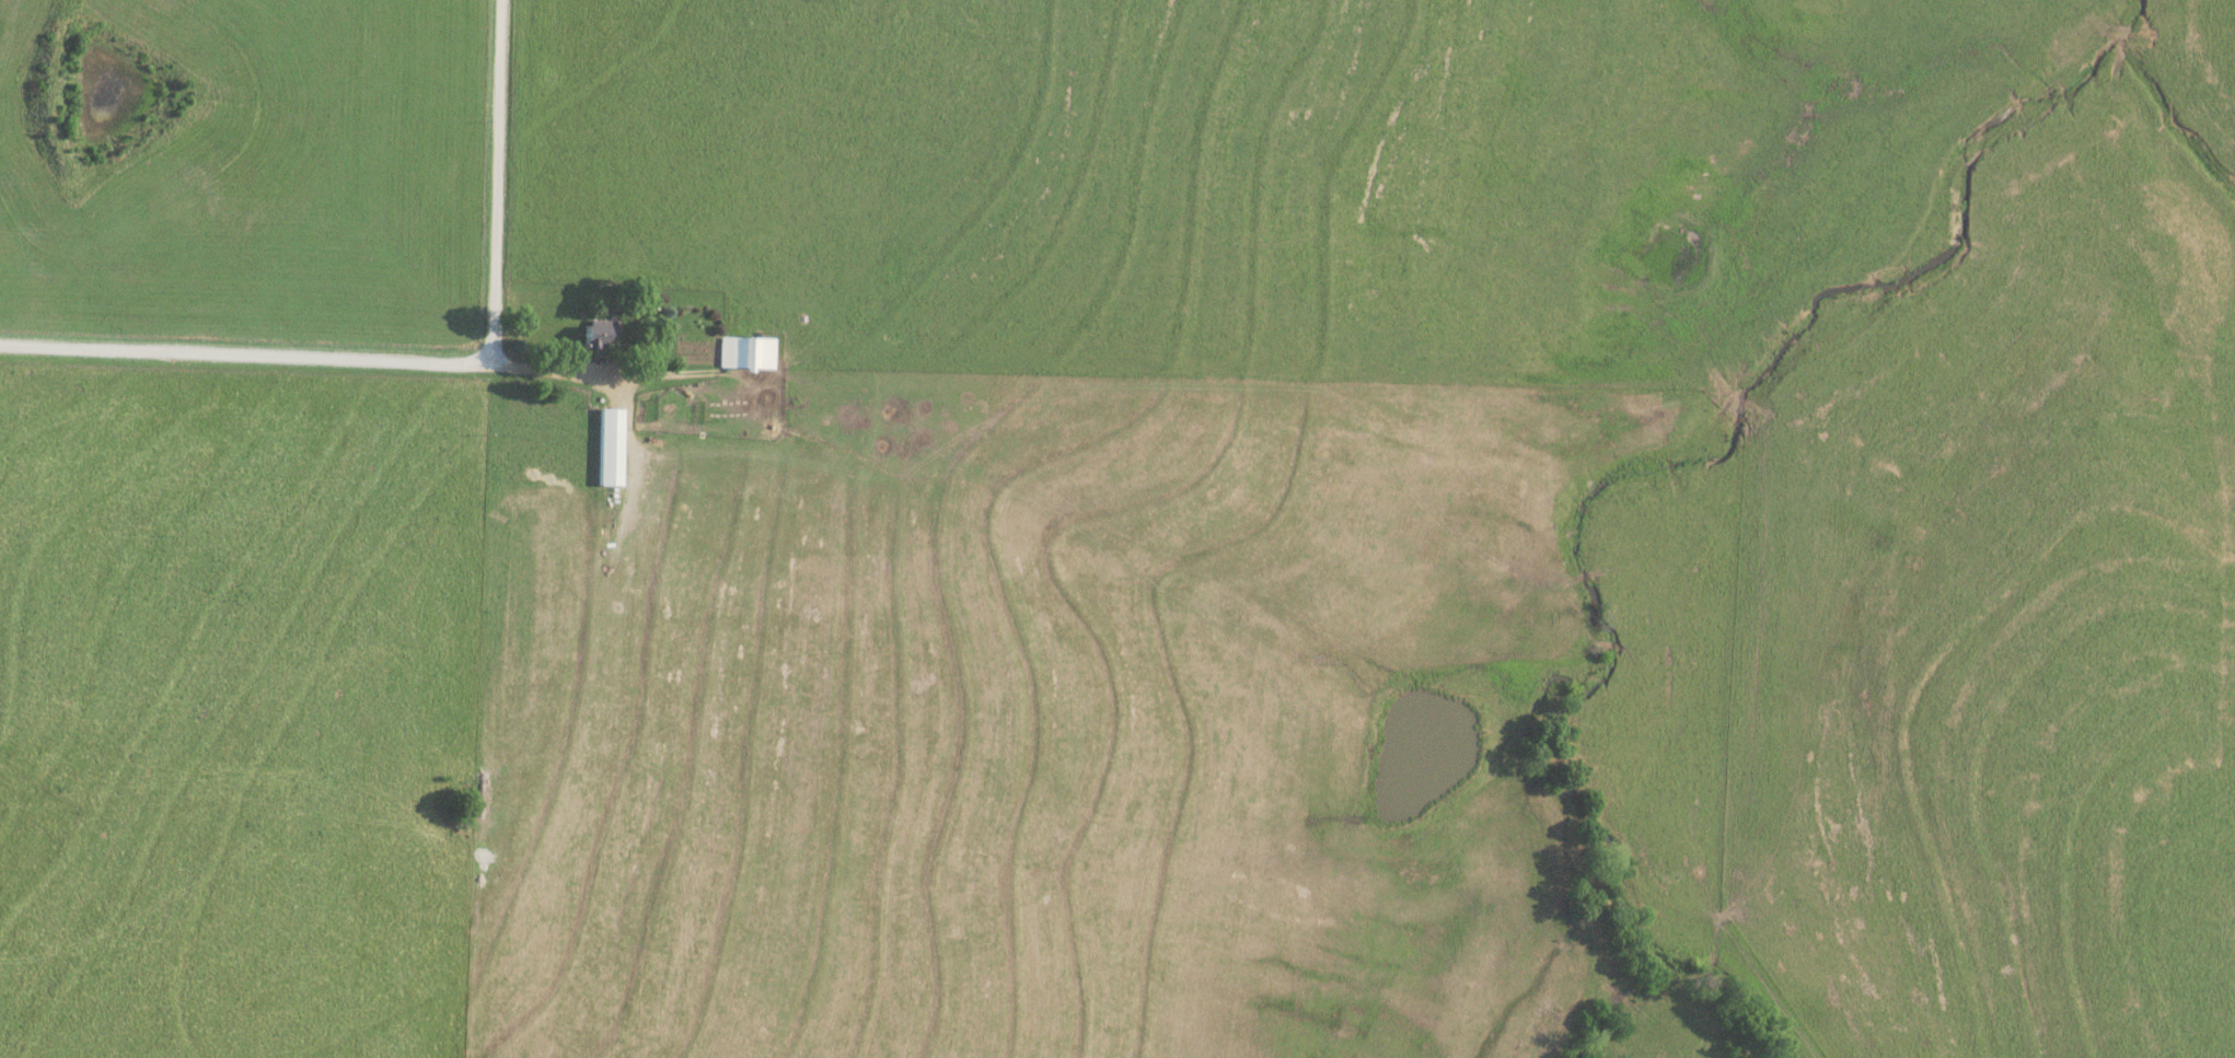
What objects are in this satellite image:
road: (501, 183)
building: (600, 333)
building: (748, 351)
road: (247, 360)
road: (641, 371)
building: (612, 445)

